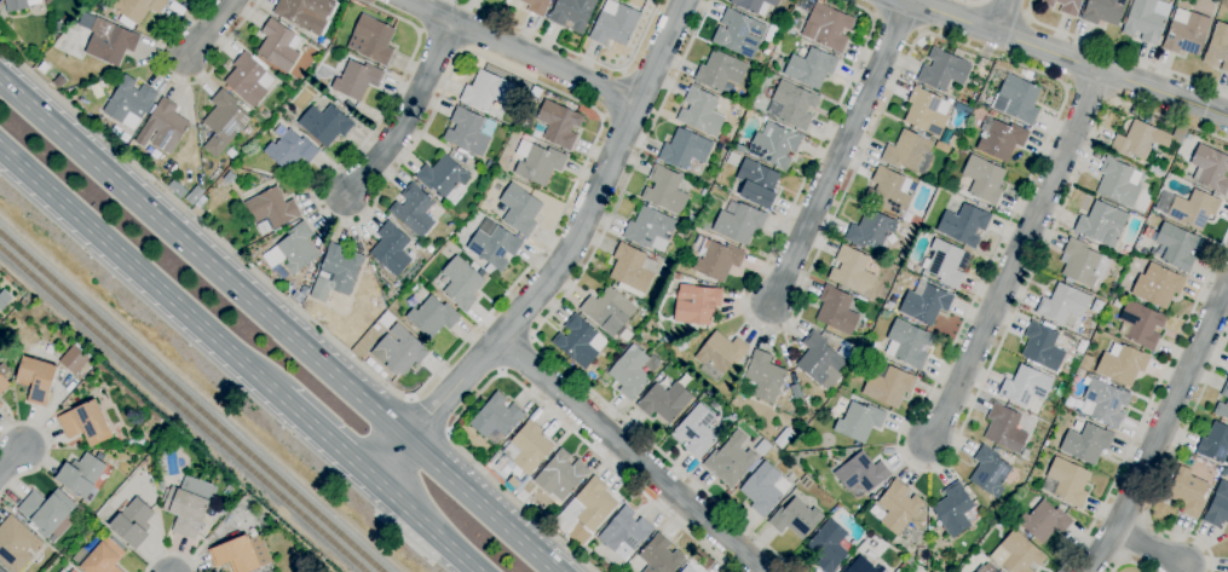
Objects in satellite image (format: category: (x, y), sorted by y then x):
building: (50, 0)
road: (972, 2)
building: (18, 5)
building: (755, 5)
building: (536, 6)
building: (1065, 6)
building: (808, 7)
building: (138, 8)
road: (1002, 10)
building: (1103, 11)
building: (305, 13)
building: (572, 13)
road: (1003, 17)
building: (1146, 19)
building: (615, 24)
building: (826, 27)
road: (209, 29)
building: (1186, 33)
building: (738, 34)
building: (371, 40)
building: (109, 42)
building: (278, 46)
building: (1218, 47)
road: (1119, 50)
road: (520, 52)
building: (767, 53)
road: (577, 54)
road: (1063, 58)
building: (811, 68)
building: (942, 70)
building: (720, 71)
building: (1030, 76)
building: (248, 80)
building: (357, 80)
road: (181, 82)
building: (486, 91)
road: (611, 93)
building: (1017, 99)
building: (129, 103)
building: (791, 105)
road: (407, 112)
building: (701, 112)
building: (927, 112)
building: (748, 114)
building: (992, 115)
building: (223, 122)
building: (559, 123)
building: (324, 125)
building: (163, 127)
road: (1053, 127)
building: (467, 132)
building: (946, 137)
building: (723, 139)
building: (1001, 139)
building: (1145, 139)
building: (774, 145)
building: (685, 149)
building: (740, 149)
building: (289, 150)
building: (907, 151)
building: (230, 154)
road: (840, 154)
building: (732, 160)
building: (537, 163)
building: (1210, 169)
building: (229, 179)
building: (443, 179)
building: (985, 180)
building: (1118, 183)
building: (757, 184)
building: (665, 191)
building: (889, 191)
building: (271, 208)
building: (1194, 209)
building: (413, 210)
building: (520, 210)
road: (561, 210)
building: (200, 212)
building: (691, 220)
building: (916, 220)
building: (738, 223)
building: (964, 225)
building: (1102, 225)
building: (648, 227)
building: (704, 227)
building: (871, 230)
building: (494, 244)
building: (1177, 247)
building: (449, 248)
building: (294, 249)
building: (391, 249)
building: (429, 249)
road: (1016, 256)
road: (563, 258)
building: (715, 260)
building: (946, 264)
building: (1083, 264)
road: (140, 268)
building: (632, 270)
building: (854, 271)
building: (336, 272)
building: (461, 283)
building: (1158, 285)
building: (4, 299)
building: (926, 304)
building: (696, 305)
building: (889, 305)
building: (1062, 305)
building: (836, 311)
building: (610, 313)
building: (884, 314)
building: (432, 317)
building: (386, 320)
road: (282, 324)
road: (541, 324)
building: (1141, 324)
building: (376, 328)
building: (578, 342)
building: (909, 343)
building: (846, 346)
building: (1043, 346)
building: (398, 351)
building: (721, 352)
road: (517, 354)
building: (75, 358)
building: (819, 360)
building: (13, 362)
building: (369, 363)
building: (1122, 364)
building: (15, 368)
building: (376, 369)
building: (632, 372)
building: (382, 375)
building: (763, 376)
building: (4, 377)
building: (36, 379)
road: (511, 379)
building: (888, 385)
building: (1025, 386)
building: (1226, 391)
building: (664, 401)
railway: (190, 403)
building: (1105, 403)
road: (1147, 403)
building: (714, 404)
building: (0, 405)
railway: (183, 410)
building: (1222, 410)
road: (429, 415)
building: (496, 417)
building: (859, 422)
building: (85, 423)
building: (461, 423)
building: (1004, 428)
road: (1160, 429)
building: (696, 431)
road: (329, 433)
building: (1086, 444)
building: (1215, 444)
road: (47, 446)
building: (525, 450)
road: (630, 453)
road: (11, 460)
building: (731, 461)
road: (1165, 467)
building: (1175, 467)
building: (861, 473)
building: (990, 473)
building: (1171, 474)
building: (81, 475)
building: (560, 475)
building: (1068, 481)
building: (512, 483)
building: (160, 485)
building: (765, 489)
building: (1222, 490)
building: (1188, 492)
building: (520, 498)
road: (388, 503)
building: (188, 505)
building: (589, 505)
building: (837, 507)
building: (898, 507)
building: (223, 509)
building: (953, 509)
building: (1217, 512)
building: (47, 513)
road: (379, 515)
building: (796, 519)
building: (1044, 521)
building: (133, 522)
road: (431, 524)
building: (624, 533)
road: (405, 539)
building: (17, 543)
building: (829, 545)
road: (1149, 547)
road: (169, 554)
building: (241, 554)
building: (1017, 554)
building: (661, 555)
building: (100, 556)
building: (910, 561)
road: (1128, 564)
building: (861, 566)
building: (987, 568)
building: (1, 570)
building: (687, 570)
building: (60, 571)
building: (63, 571)
building: (73, 571)

